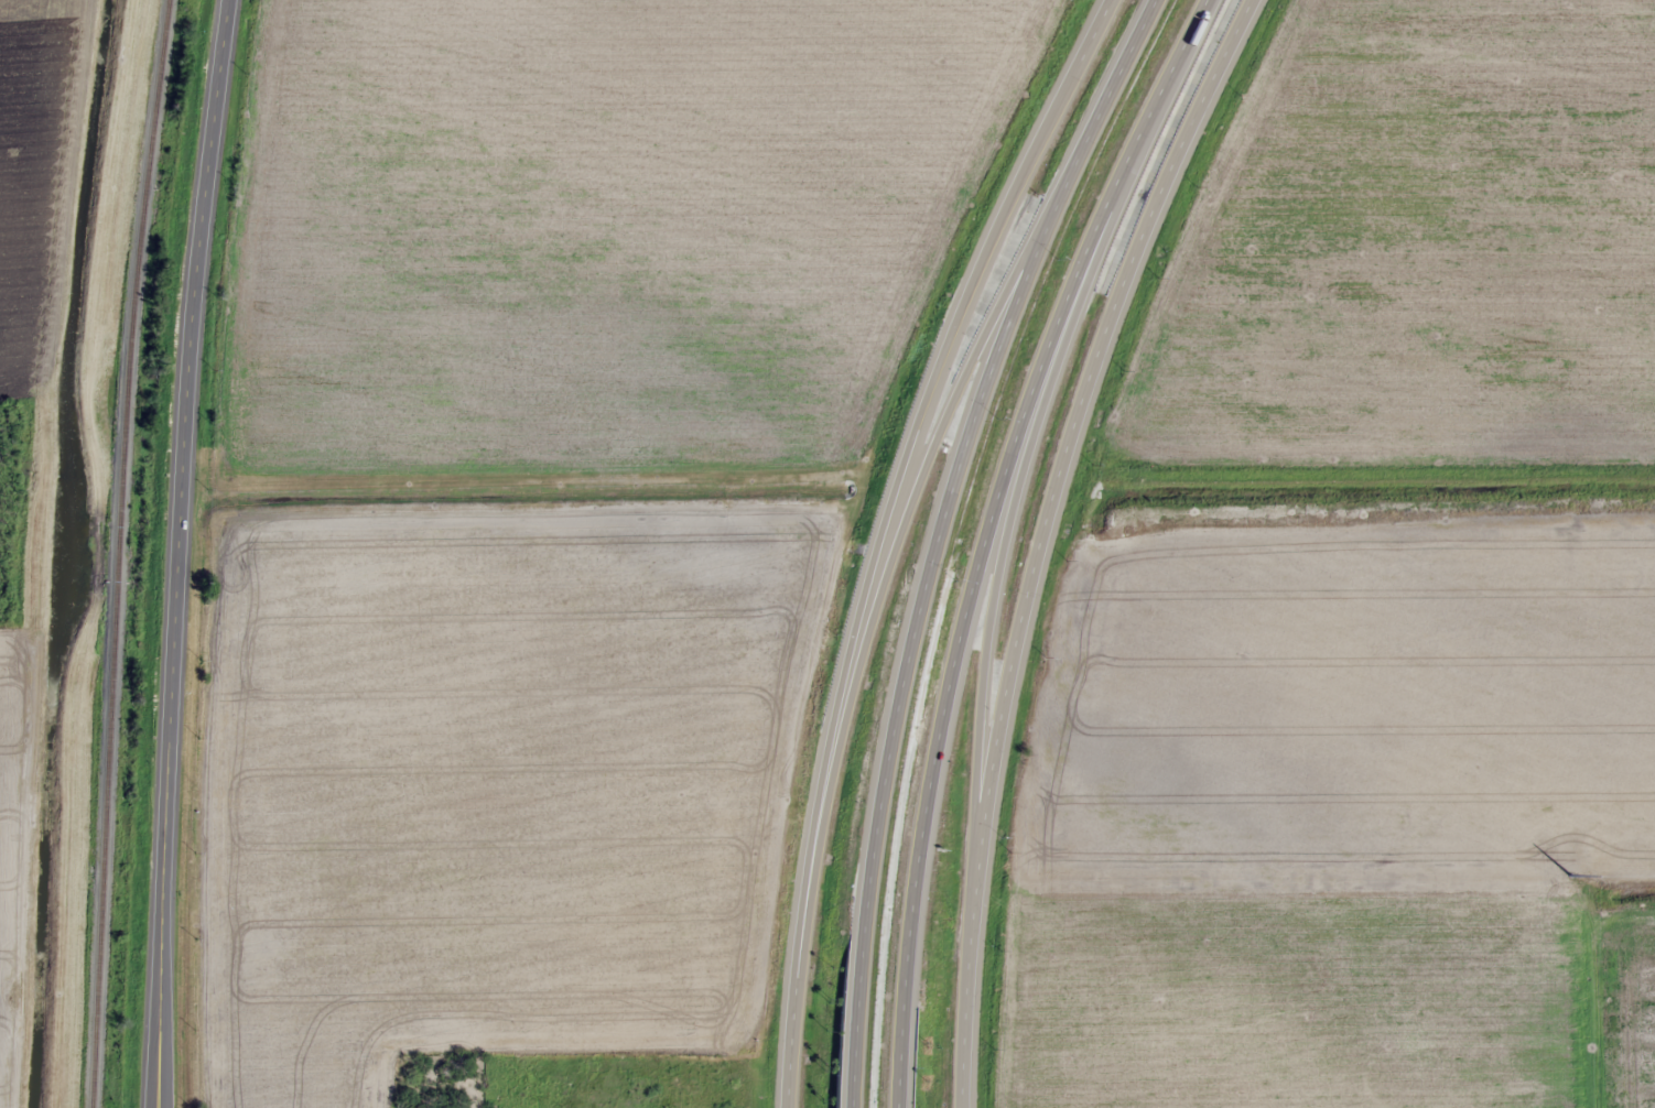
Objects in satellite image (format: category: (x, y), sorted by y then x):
road: (1096, 111)
road: (939, 432)
road: (883, 534)
road: (989, 535)
road: (1040, 535)
road: (176, 552)
railway: (116, 553)
road: (993, 610)
road: (908, 658)
power tower: (1573, 871)
road: (31, 986)

